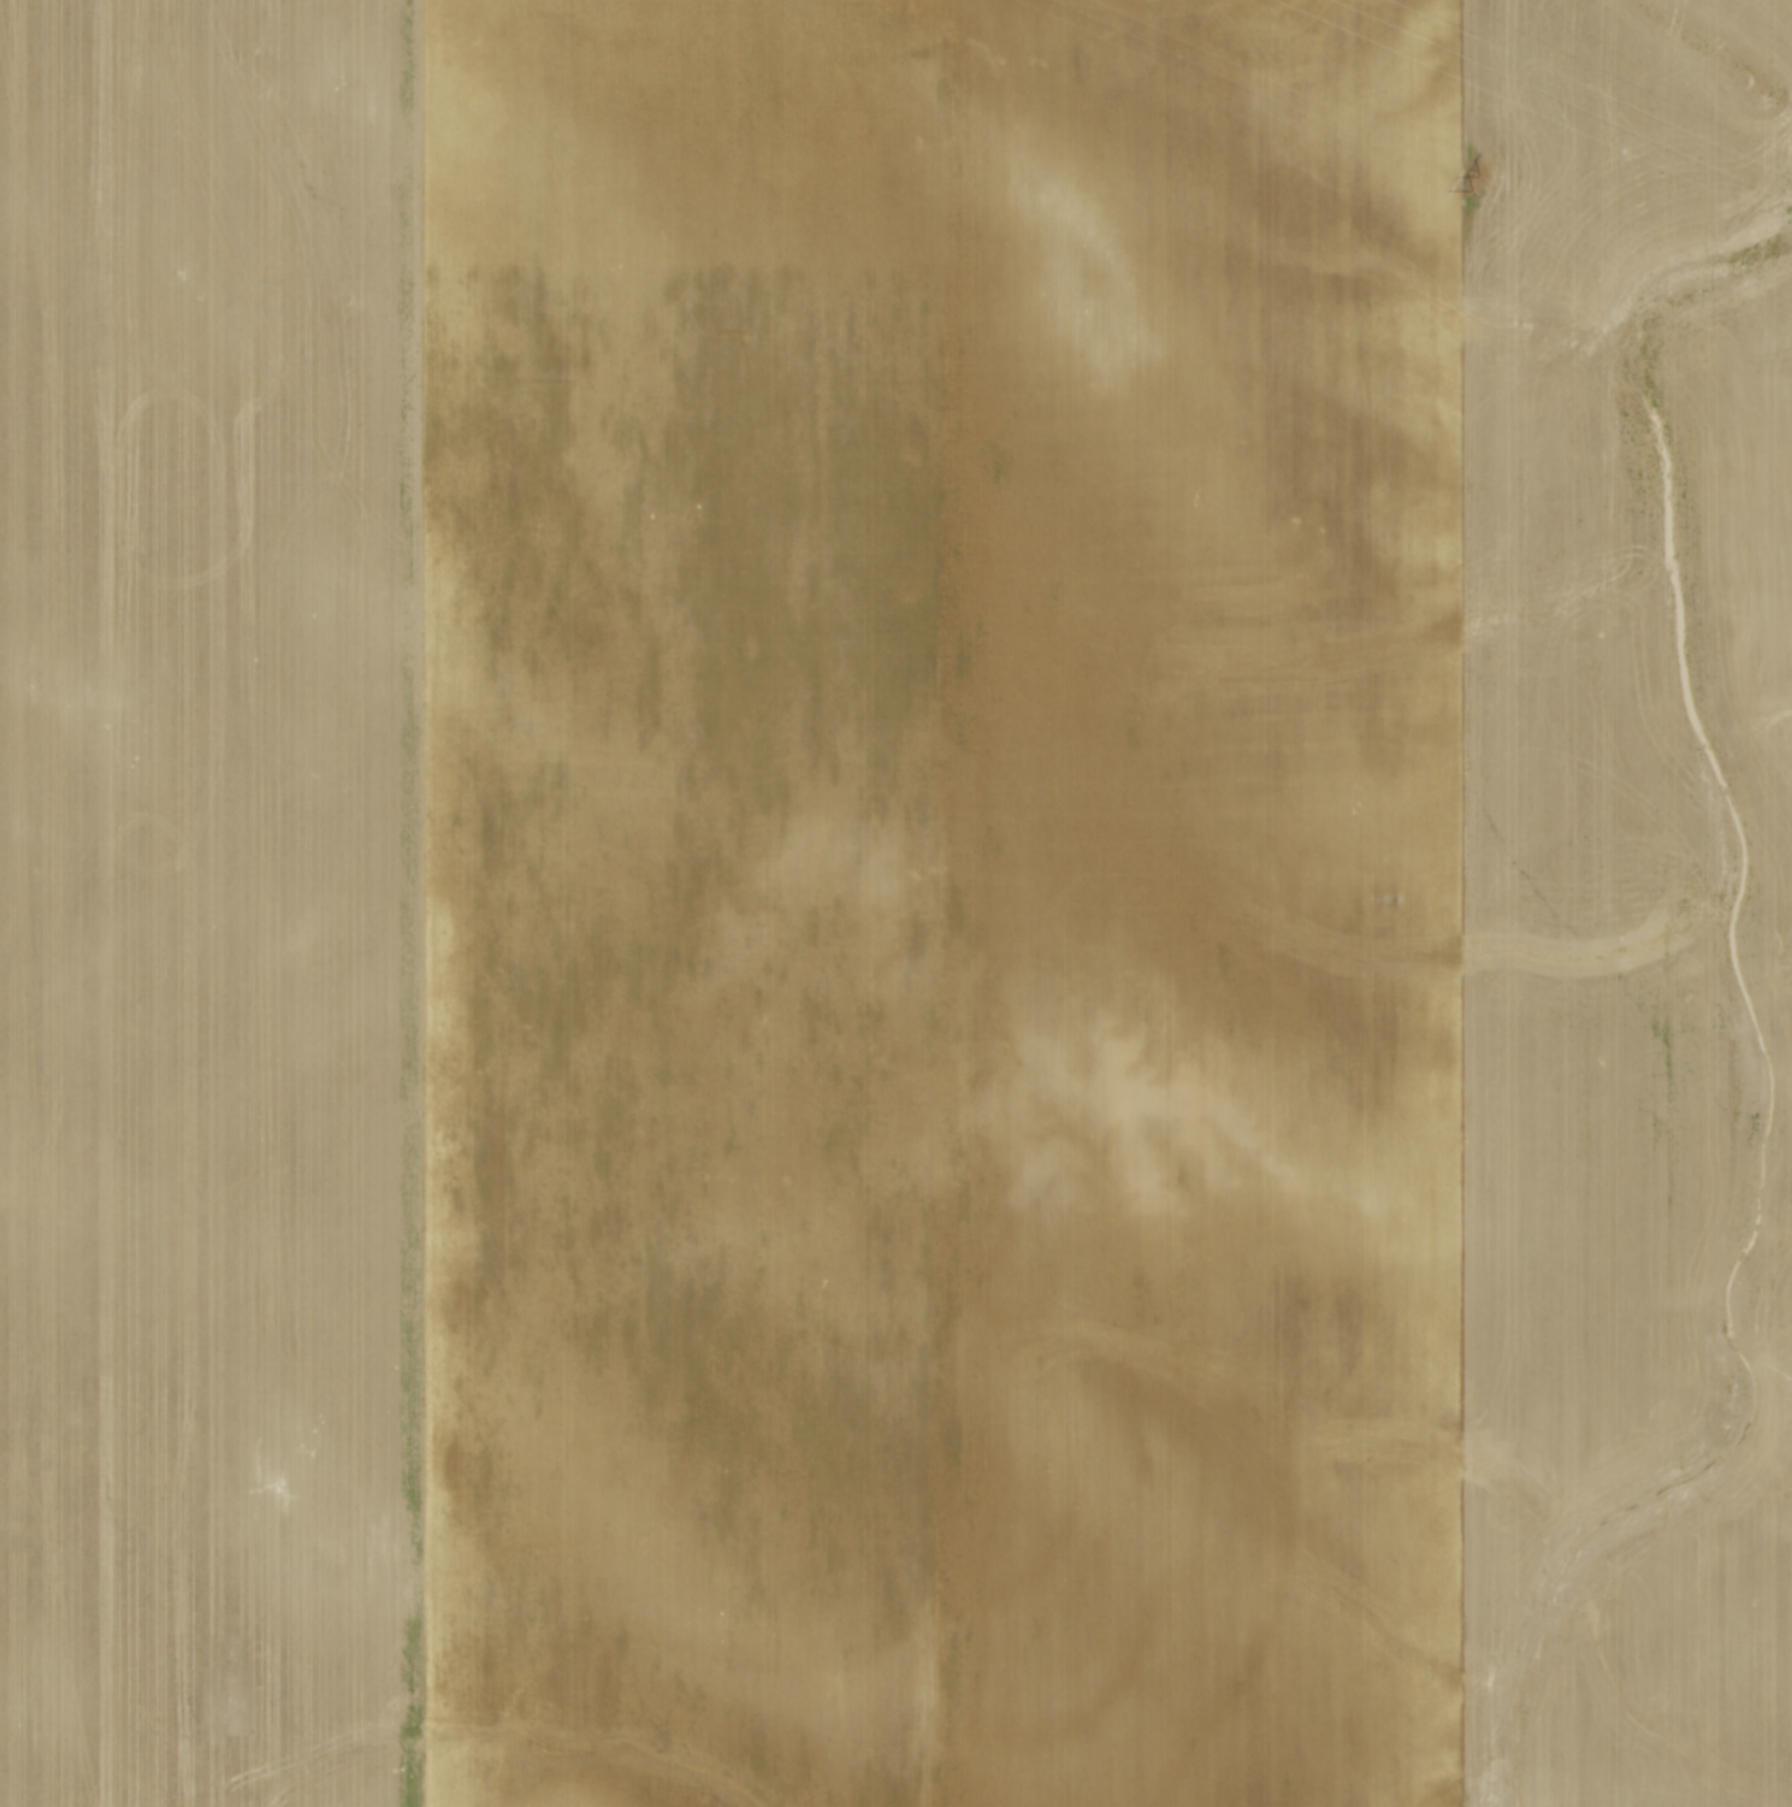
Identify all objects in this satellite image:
power tower: (1474, 181)
crop: (895, 903)

